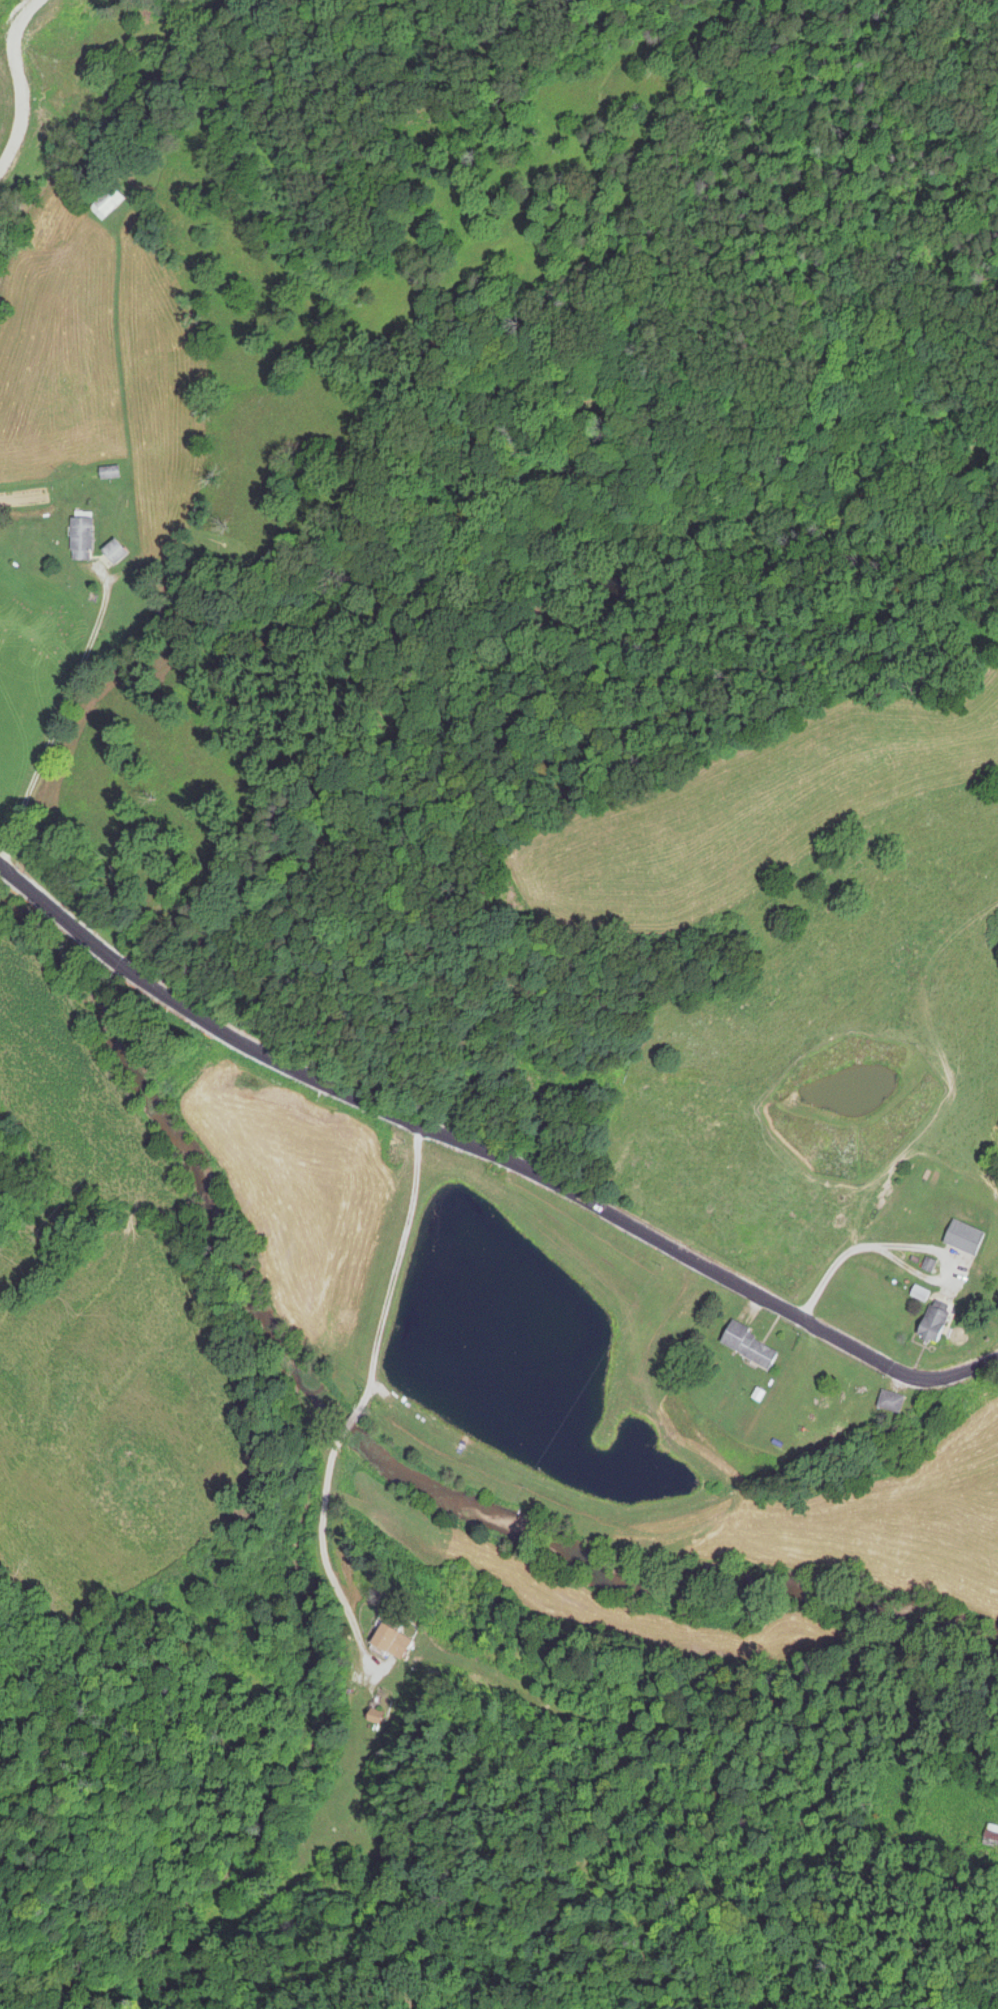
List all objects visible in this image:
building: (107, 204)
building: (111, 473)
building: (82, 539)
building: (114, 553)
road: (81, 607)
road: (492, 1154)
building: (962, 1238)
building: (929, 1265)
building: (920, 1294)
building: (932, 1325)
building: (743, 1347)
building: (402, 1638)

